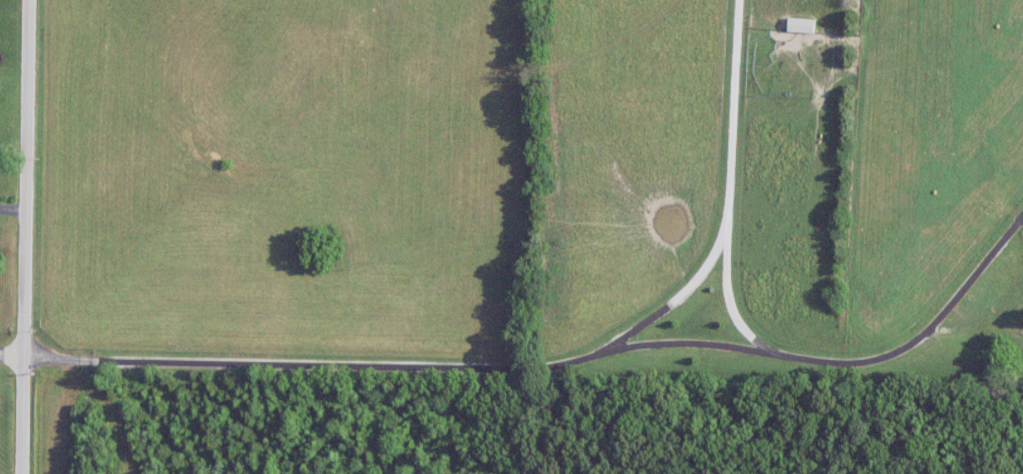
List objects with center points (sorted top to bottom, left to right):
road: (729, 113)
road: (13, 207)
road: (25, 236)
road: (714, 242)
road: (12, 354)
road: (558, 362)

